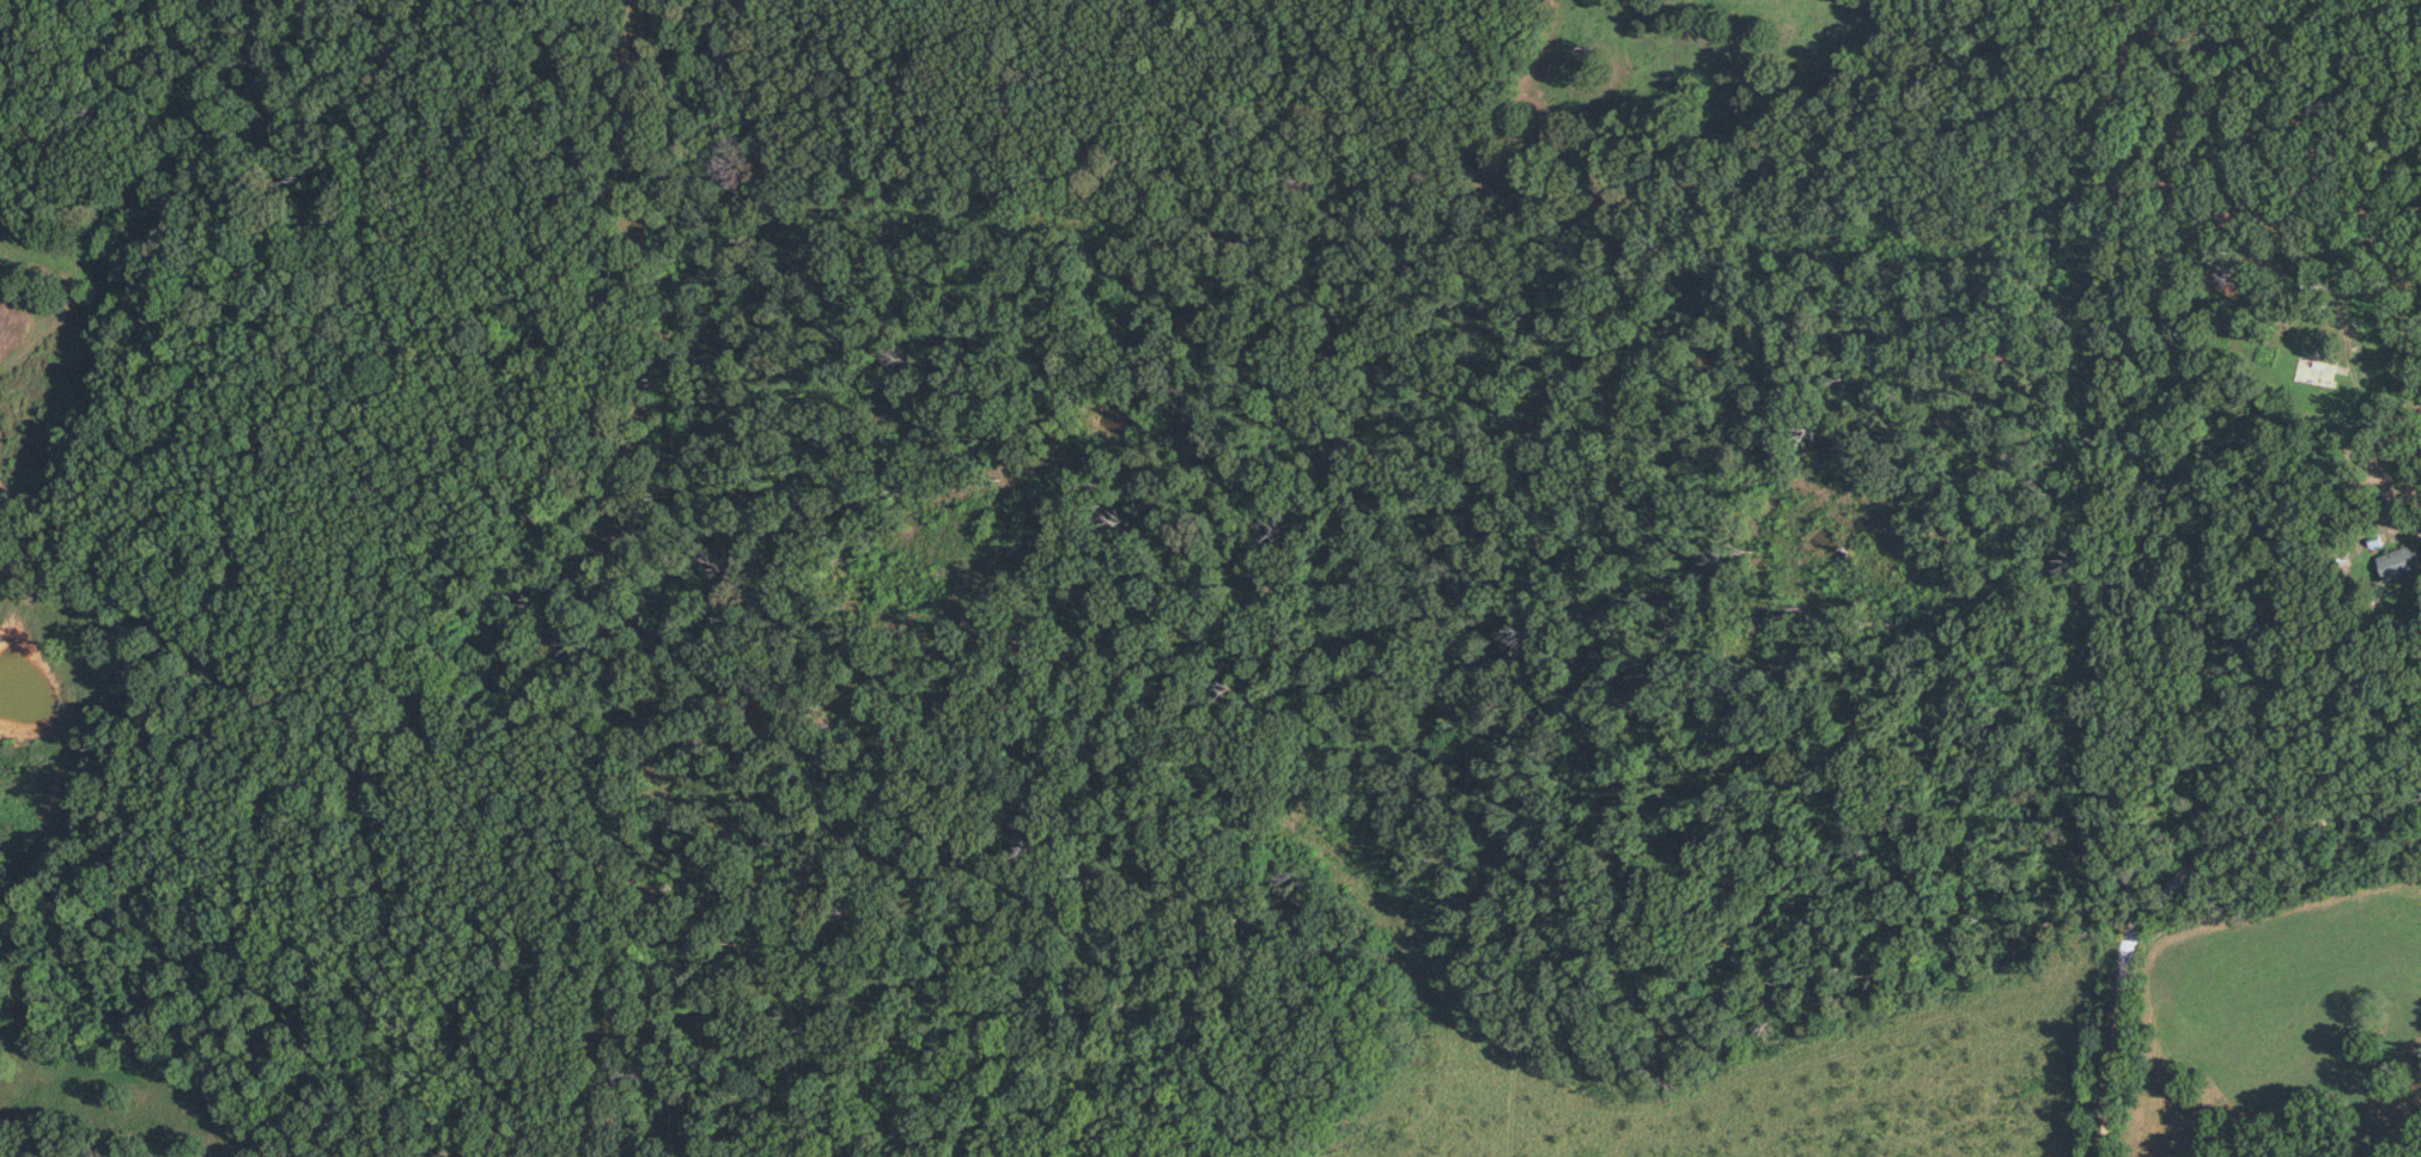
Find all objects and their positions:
building: (2313, 373)
road: (2390, 378)
building: (2403, 565)
road: (2157, 887)

